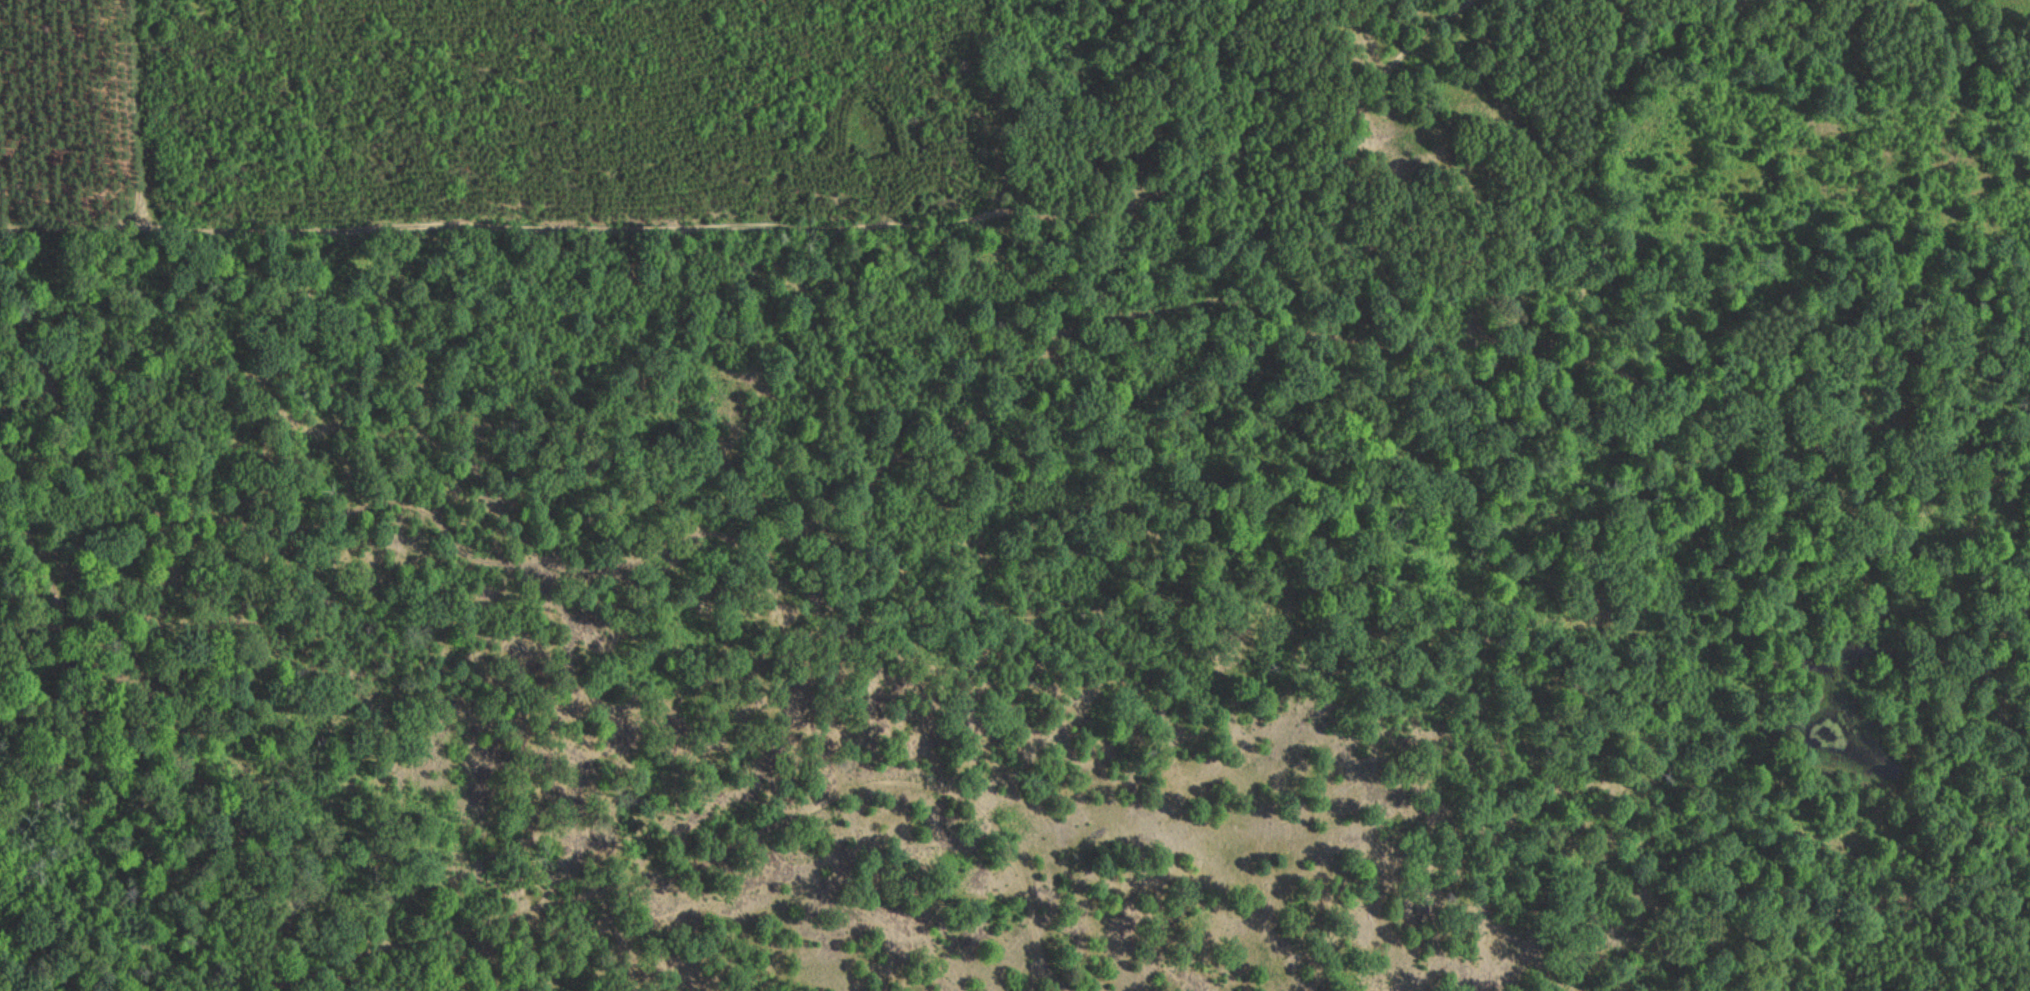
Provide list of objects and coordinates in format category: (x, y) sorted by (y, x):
road: (771, 226)

